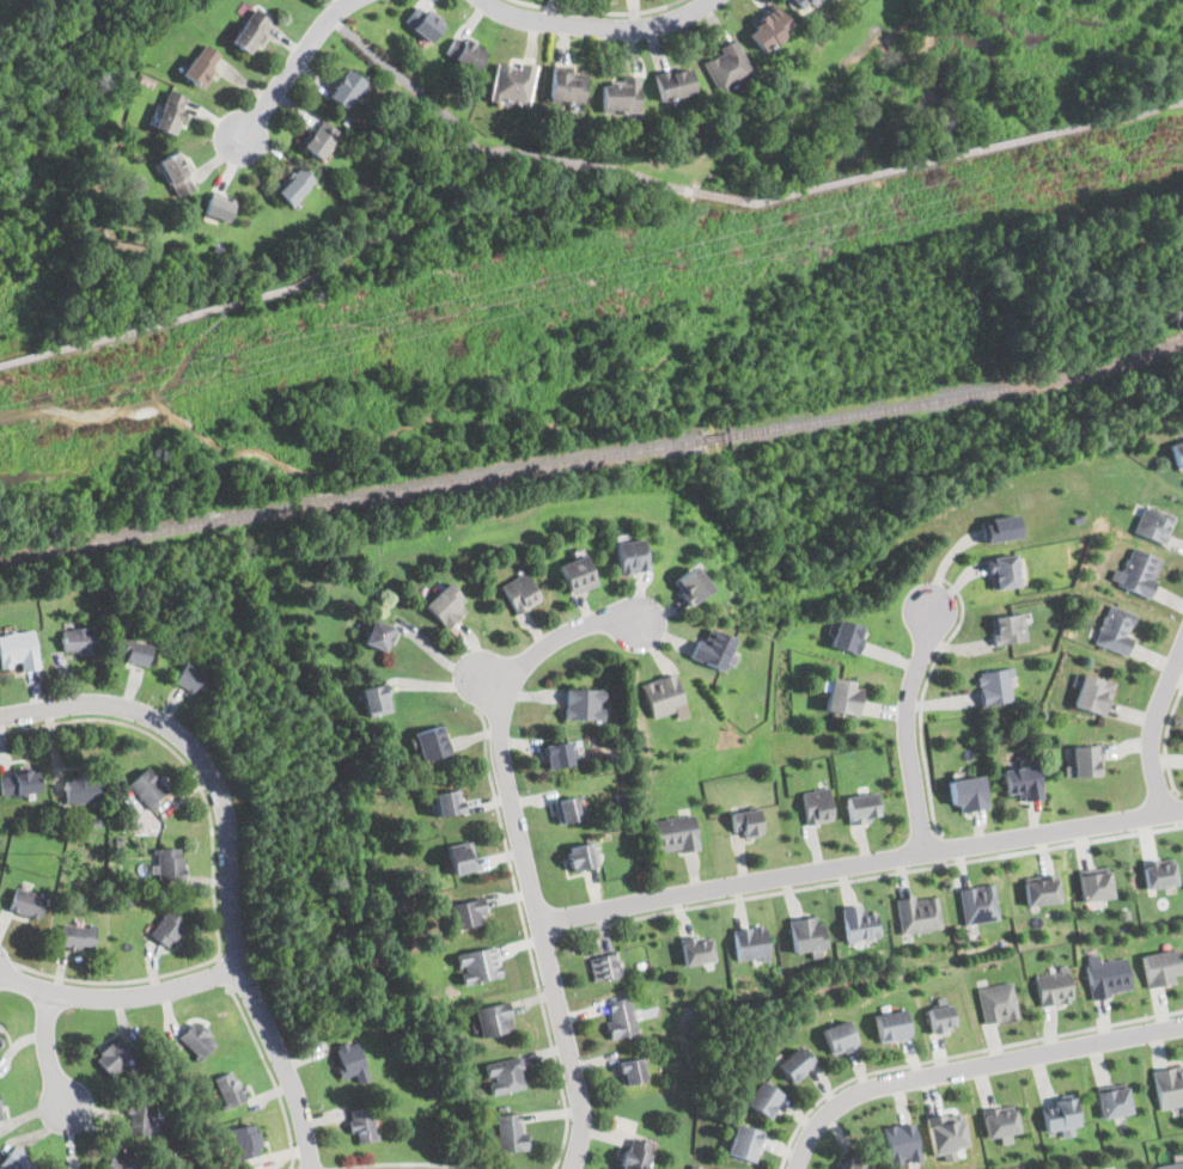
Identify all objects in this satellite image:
building: (801, 4)
road: (598, 11)
building: (423, 22)
road: (598, 24)
building: (769, 27)
building: (251, 29)
building: (464, 51)
building: (202, 63)
building: (727, 67)
road: (286, 72)
road: (408, 80)
building: (512, 81)
building: (673, 81)
building: (567, 84)
building: (346, 88)
building: (622, 93)
road: (1148, 108)
building: (171, 111)
building: (319, 140)
road: (565, 158)
road: (902, 166)
building: (176, 173)
building: (294, 185)
building: (218, 207)
power tower: (677, 259)
road: (238, 301)
power tower: (232, 361)
railway: (959, 397)
railway: (715, 439)
building: (1177, 452)
railway: (500, 475)
building: (1153, 524)
building: (1000, 526)
building: (630, 556)
building: (1005, 570)
building: (1139, 570)
building: (577, 573)
building: (690, 584)
building: (519, 593)
building: (446, 605)
building: (1008, 626)
building: (1116, 628)
building: (378, 632)
building: (844, 636)
building: (79, 638)
building: (712, 648)
building: (17, 649)
building: (135, 649)
building: (190, 675)
road: (488, 683)
building: (995, 685)
road: (923, 693)
building: (1093, 693)
building: (663, 694)
building: (840, 696)
building: (376, 697)
building: (584, 703)
road: (907, 726)
road: (1153, 727)
road: (1166, 740)
building: (431, 742)
building: (557, 753)
building: (1086, 760)
building: (19, 779)
building: (1023, 781)
building: (81, 788)
building: (147, 788)
building: (966, 791)
building: (447, 803)
building: (816, 804)
building: (862, 806)
building: (567, 807)
road: (1178, 809)
building: (744, 820)
building: (675, 833)
road: (941, 849)
road: (522, 851)
building: (580, 855)
road: (227, 857)
building: (462, 858)
road: (213, 861)
building: (170, 864)
road: (860, 864)
building: (1158, 873)
road: (870, 877)
building: (1096, 885)
building: (1042, 887)
building: (26, 900)
building: (980, 902)
building: (467, 912)
building: (920, 912)
building: (860, 922)
building: (166, 926)
building: (77, 934)
building: (809, 934)
road: (528, 937)
road: (543, 937)
building: (751, 941)
building: (696, 948)
building: (477, 965)
building: (605, 965)
building: (1161, 967)
road: (222, 973)
building: (1108, 975)
building: (1054, 985)
road: (120, 996)
building: (996, 1002)
building: (621, 1015)
building: (939, 1015)
building: (493, 1018)
building: (891, 1024)
building: (0, 1036)
building: (840, 1038)
building: (196, 1039)
building: (0, 1040)
road: (48, 1051)
road: (958, 1054)
building: (114, 1057)
building: (349, 1060)
building: (794, 1064)
road: (969, 1066)
building: (632, 1070)
building: (505, 1073)
road: (272, 1075)
building: (1170, 1084)
building: (228, 1089)
building: (1114, 1098)
building: (763, 1100)
building: (1059, 1113)
building: (0, 1114)
building: (139, 1118)
building: (1000, 1121)
building: (361, 1124)
building: (512, 1131)
building: (944, 1136)
building: (246, 1140)
building: (744, 1143)
building: (902, 1144)
building: (635, 1153)
building: (16, 1162)
building: (120, 1162)
building: (1172, 1162)
building: (852, 1164)
road: (409, 1165)
building: (1127, 1168)

